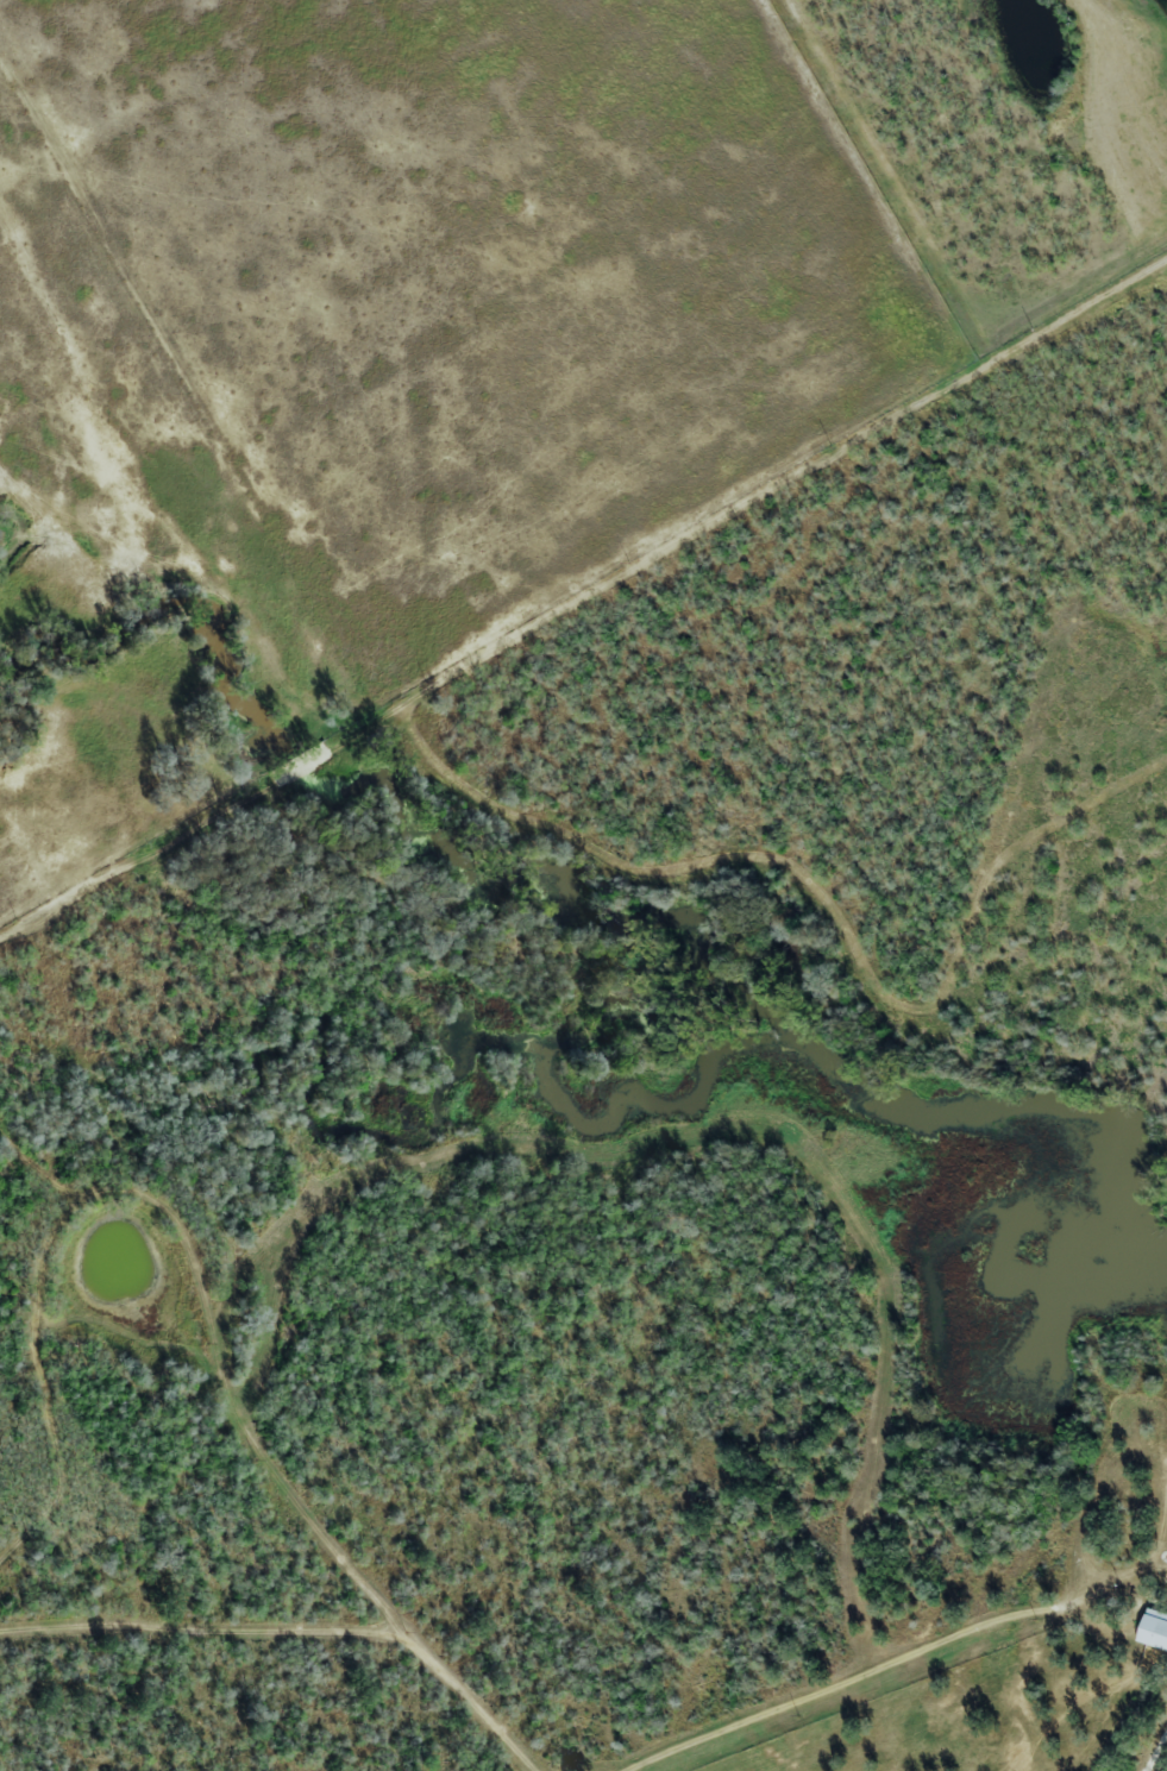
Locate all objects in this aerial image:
road: (1155, 1752)

